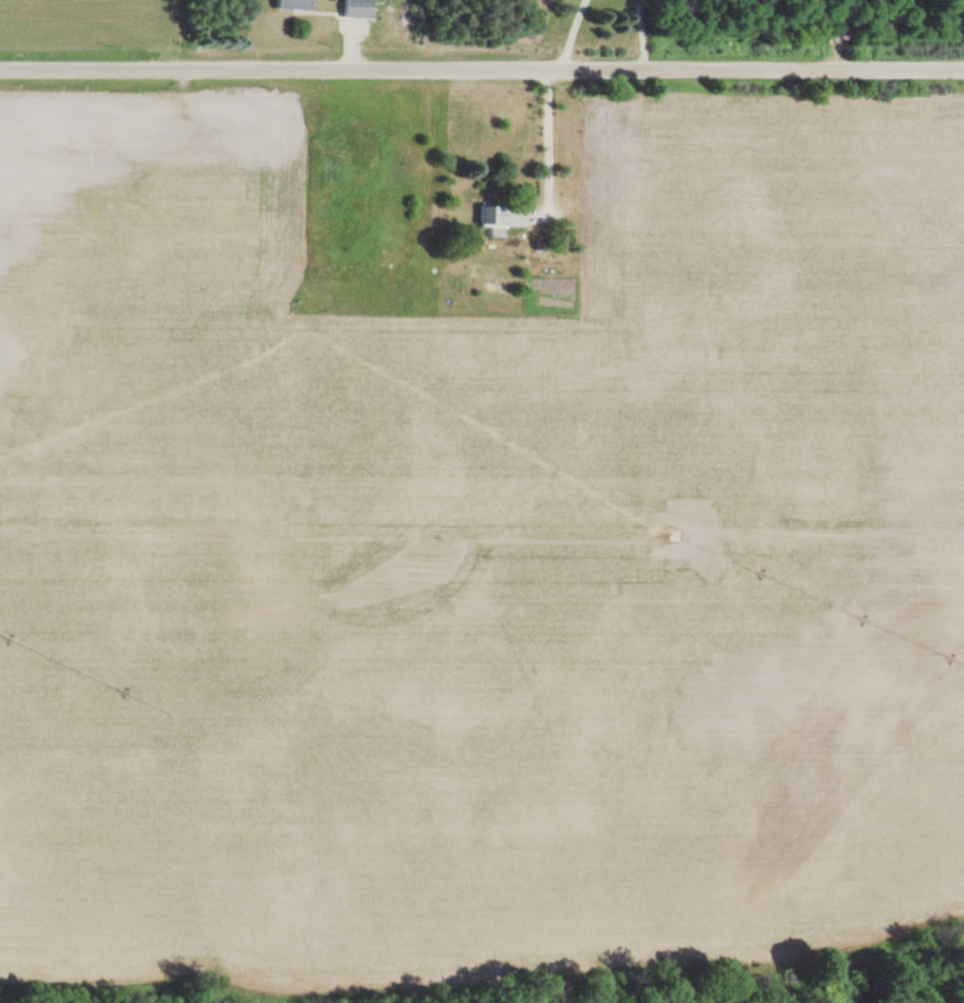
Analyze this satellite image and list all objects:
building: (953, 3)
building: (285, 4)
building: (350, 8)
building: (884, 34)
road: (482, 56)
building: (497, 216)

